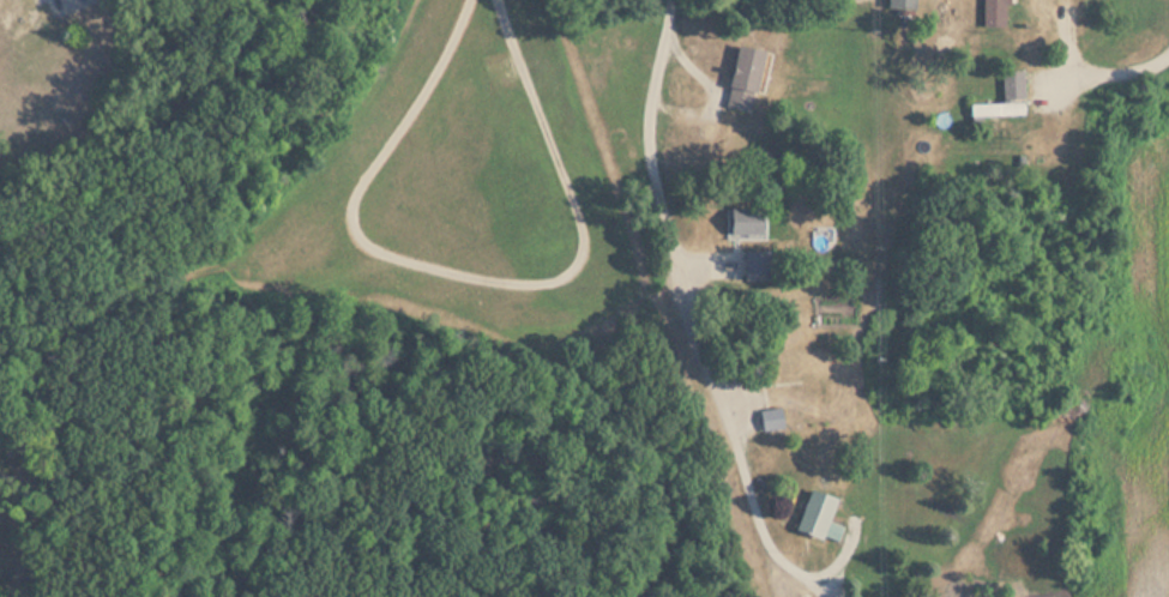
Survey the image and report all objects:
building: (900, 2)
road: (1137, 71)
building: (745, 78)
building: (1002, 97)
building: (743, 223)
road: (470, 275)
road: (701, 328)
railway: (53, 339)
building: (770, 418)
building: (815, 517)

